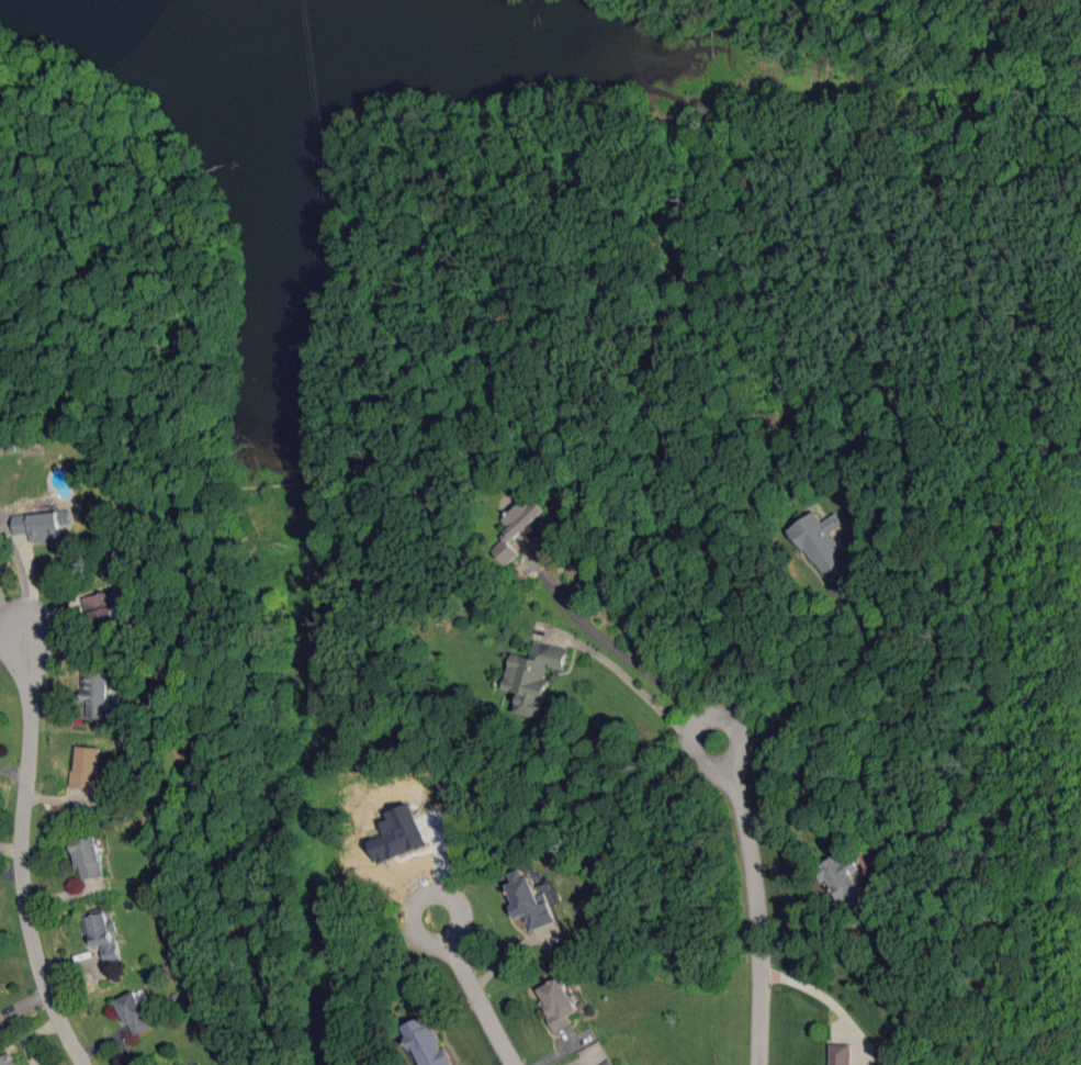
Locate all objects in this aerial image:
road: (731, 16)
road: (824, 68)
road: (416, 117)
road: (202, 205)
road: (70, 273)
road: (136, 338)
road: (269, 482)
building: (42, 524)
building: (517, 527)
building: (820, 541)
road: (15, 623)
road: (608, 641)
building: (533, 676)
road: (629, 679)
road: (841, 683)
building: (101, 692)
road: (736, 727)
building: (87, 769)
building: (404, 830)
building: (88, 857)
road: (25, 861)
building: (846, 884)
building: (533, 900)
road: (458, 903)
road: (759, 922)
building: (103, 935)
road: (834, 959)
building: (558, 1002)
road: (829, 1002)
road: (483, 1007)
building: (134, 1013)
building: (427, 1043)
building: (840, 1054)
building: (8, 1060)
building: (610, 1063)
building: (182, 1064)

